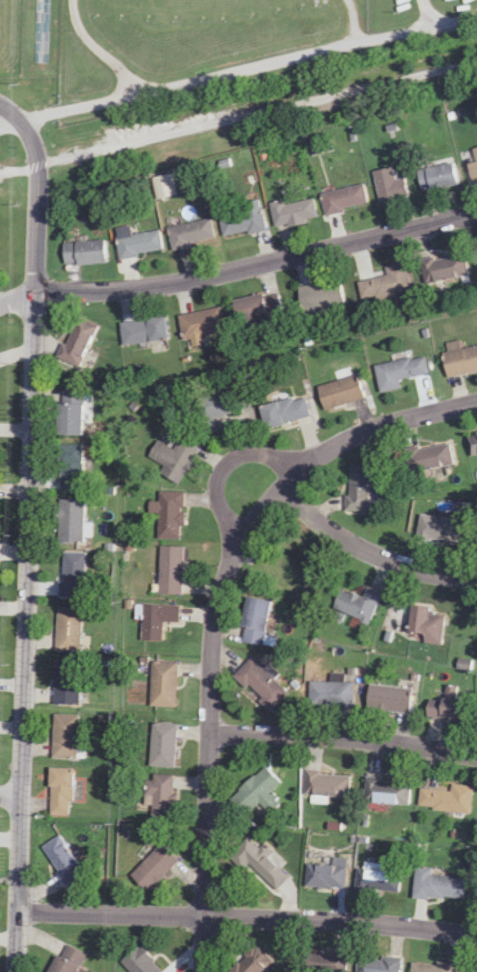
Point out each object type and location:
road: (37, 29)
road: (238, 71)
road: (238, 114)
building: (472, 166)
building: (436, 177)
building: (388, 185)
building: (163, 186)
building: (343, 199)
building: (292, 212)
building: (242, 221)
building: (190, 233)
building: (136, 242)
building: (84, 253)
road: (240, 268)
building: (443, 268)
building: (389, 282)
building: (320, 297)
building: (255, 309)
building: (201, 324)
building: (151, 330)
building: (76, 343)
building: (459, 360)
building: (398, 373)
building: (340, 390)
building: (214, 410)
building: (284, 412)
building: (68, 413)
building: (472, 443)
building: (429, 458)
building: (172, 459)
road: (226, 465)
building: (70, 468)
building: (357, 489)
building: (169, 515)
building: (69, 521)
road: (22, 536)
road: (369, 553)
building: (285, 564)
building: (168, 571)
building: (71, 575)
building: (356, 605)
road: (215, 611)
building: (156, 621)
building: (253, 621)
building: (425, 624)
building: (67, 630)
building: (65, 683)
building: (162, 684)
building: (259, 684)
building: (335, 697)
building: (388, 700)
building: (443, 705)
building: (63, 737)
road: (343, 739)
building: (161, 745)
building: (325, 784)
building: (59, 792)
building: (386, 792)
building: (255, 793)
road: (8, 795)
building: (160, 796)
building: (446, 799)
building: (61, 860)
building: (260, 864)
building: (152, 869)
building: (323, 877)
building: (379, 882)
building: (434, 886)
road: (245, 919)
building: (66, 960)
building: (251, 961)
building: (137, 962)
building: (378, 964)
building: (431, 967)
building: (473, 971)

